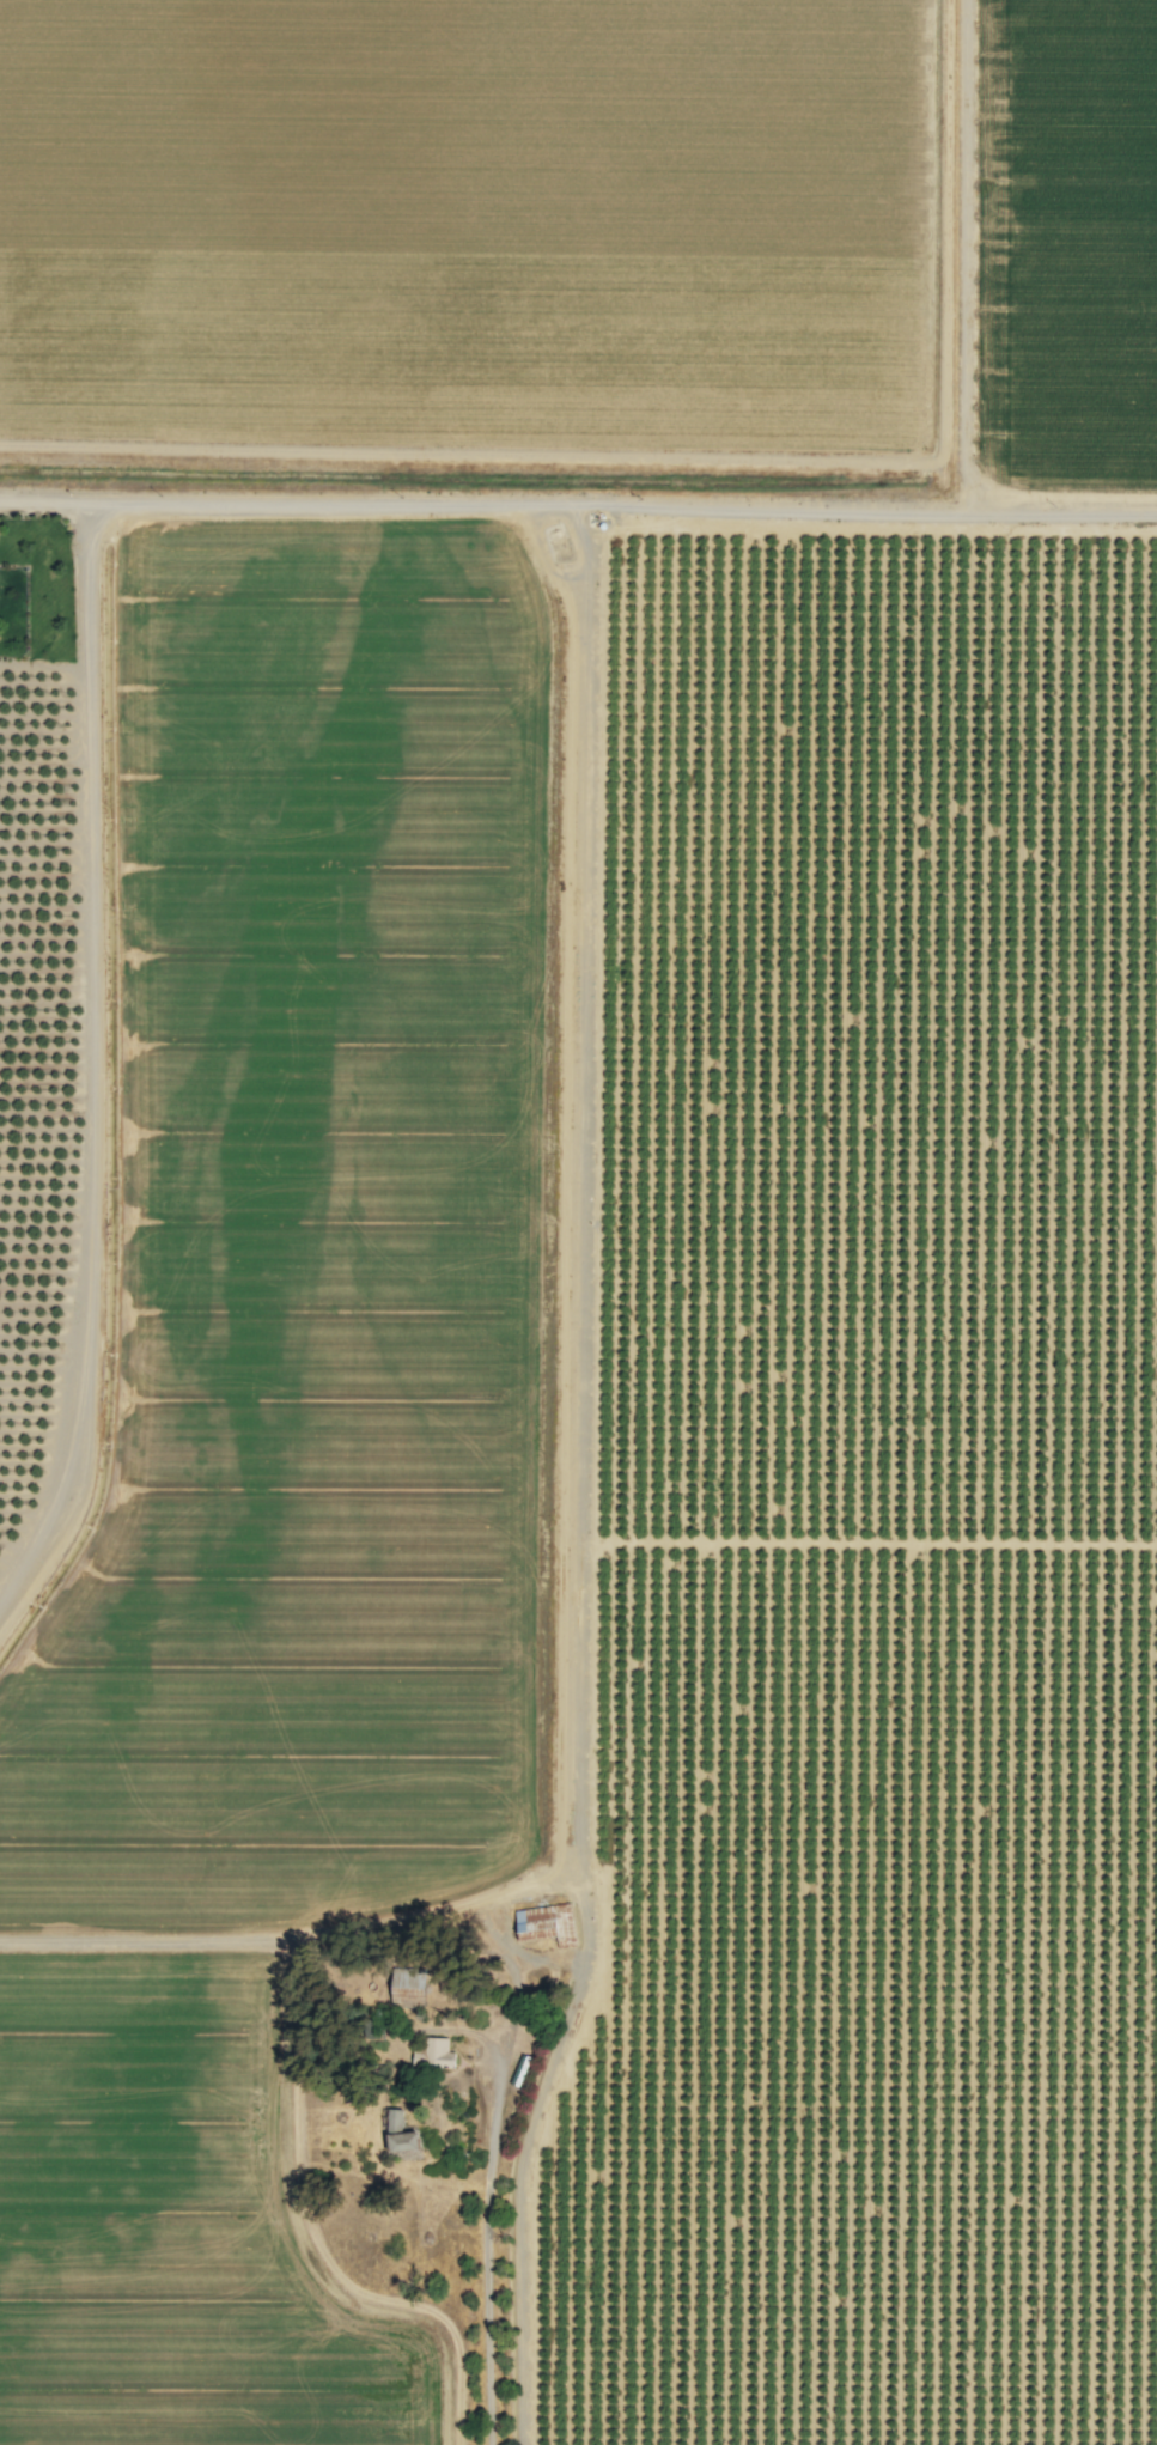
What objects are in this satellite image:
crop: (416, 960)
building: (540, 1923)
building: (430, 2055)
building: (391, 2134)
road: (525, 2179)

